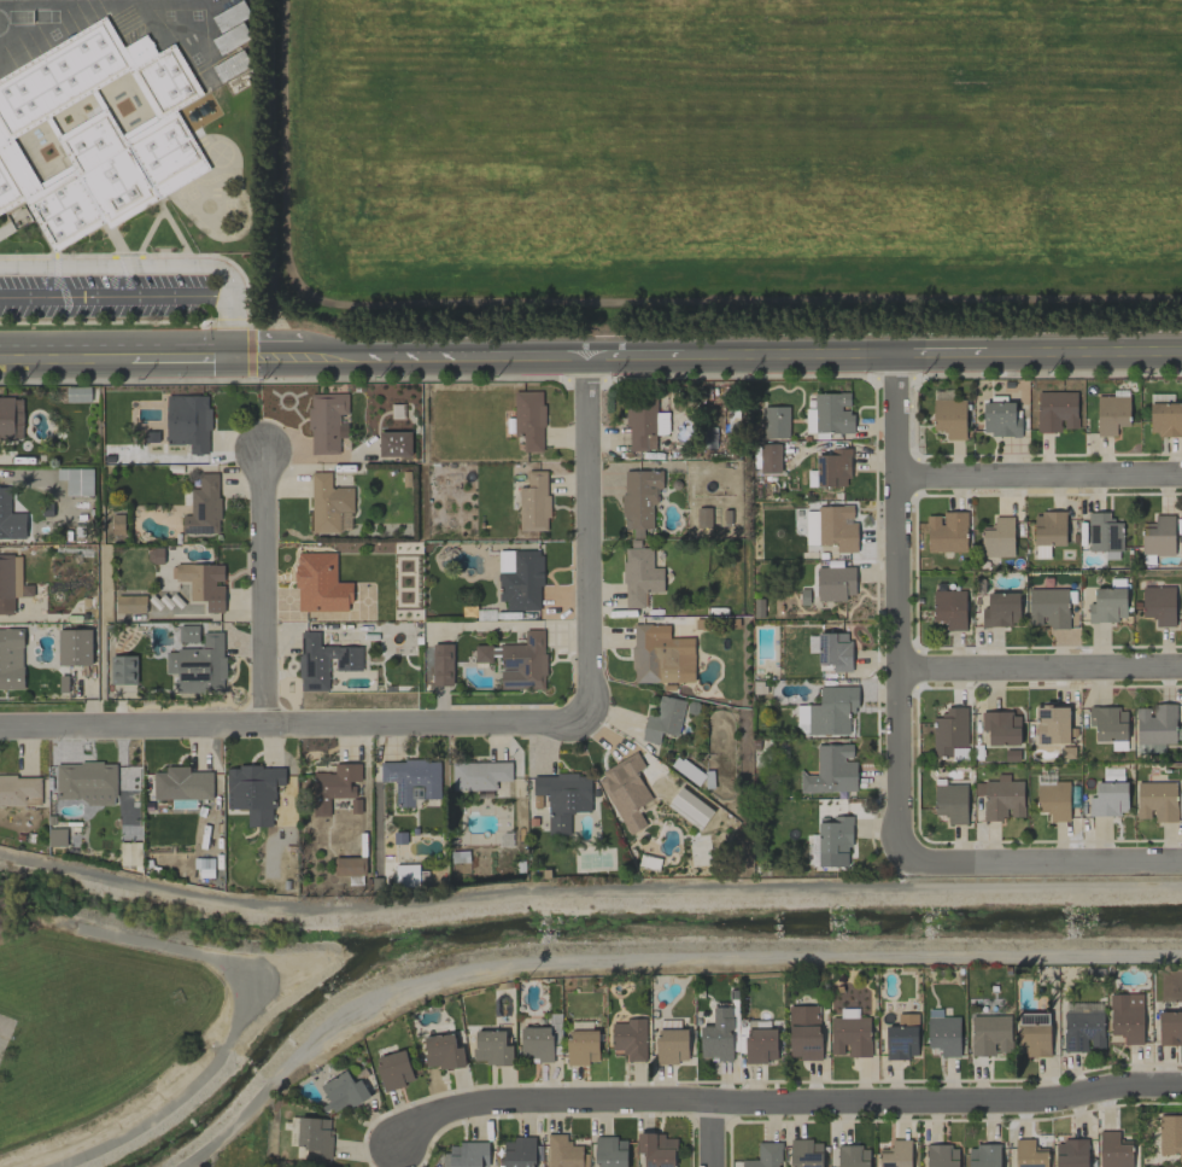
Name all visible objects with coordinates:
building: (230, 16)
building: (230, 65)
building: (95, 132)
road: (124, 267)
road: (115, 294)
road: (106, 325)
road: (230, 327)
road: (250, 332)
road: (64, 357)
road: (180, 360)
road: (707, 362)
road: (289, 377)
building: (77, 393)
building: (1055, 410)
building: (830, 414)
building: (1111, 414)
building: (11, 418)
building: (949, 418)
building: (1000, 418)
building: (528, 419)
building: (1164, 419)
building: (188, 421)
building: (324, 421)
building: (774, 421)
building: (644, 424)
building: (394, 444)
building: (768, 457)
building: (832, 468)
road: (1041, 474)
building: (76, 480)
building: (639, 501)
building: (533, 502)
building: (328, 503)
building: (203, 506)
building: (703, 517)
building: (10, 518)
building: (116, 524)
building: (831, 527)
building: (1048, 529)
building: (946, 532)
building: (1104, 532)
building: (1158, 536)
building: (997, 538)
road: (584, 541)
building: (639, 576)
building: (520, 579)
building: (11, 582)
building: (203, 583)
building: (833, 583)
building: (320, 584)
road: (261, 587)
building: (130, 603)
building: (1159, 603)
building: (1107, 605)
building: (384, 606)
building: (1048, 607)
building: (949, 608)
building: (1000, 609)
road: (900, 614)
building: (188, 634)
building: (74, 647)
building: (833, 650)
building: (482, 653)
building: (661, 655)
building: (11, 659)
building: (323, 660)
building: (200, 661)
building: (523, 663)
building: (441, 664)
building: (123, 669)
road: (1041, 669)
building: (832, 710)
building: (801, 717)
building: (663, 719)
road: (425, 720)
building: (1108, 723)
building: (1052, 724)
building: (1155, 724)
road: (130, 725)
building: (1001, 728)
building: (949, 731)
building: (831, 770)
building: (479, 775)
building: (411, 778)
building: (84, 782)
building: (181, 783)
building: (334, 786)
building: (19, 790)
building: (253, 790)
building: (625, 792)
building: (562, 798)
building: (1000, 798)
building: (1108, 799)
building: (1053, 800)
building: (1155, 800)
building: (950, 803)
building: (125, 809)
building: (833, 841)
road: (1040, 864)
building: (349, 865)
road: (587, 887)
building: (1127, 1016)
building: (1170, 1027)
building: (1083, 1031)
building: (803, 1032)
building: (849, 1033)
building: (943, 1034)
building: (989, 1034)
building: (1032, 1034)
building: (716, 1035)
building: (901, 1037)
building: (630, 1038)
building: (536, 1044)
building: (671, 1045)
building: (760, 1045)
building: (581, 1046)
building: (491, 1048)
building: (443, 1051)
building: (393, 1069)
building: (343, 1091)
road: (783, 1103)
road: (712, 1134)
building: (1170, 1134)
building: (314, 1137)
building: (656, 1149)
building: (1113, 1150)
building: (519, 1151)
building: (562, 1151)
building: (610, 1151)
building: (806, 1153)
building: (1071, 1153)
building: (896, 1154)
building: (1029, 1154)
building: (468, 1155)
building: (765, 1155)
building: (941, 1155)
building: (983, 1155)
building: (853, 1156)

